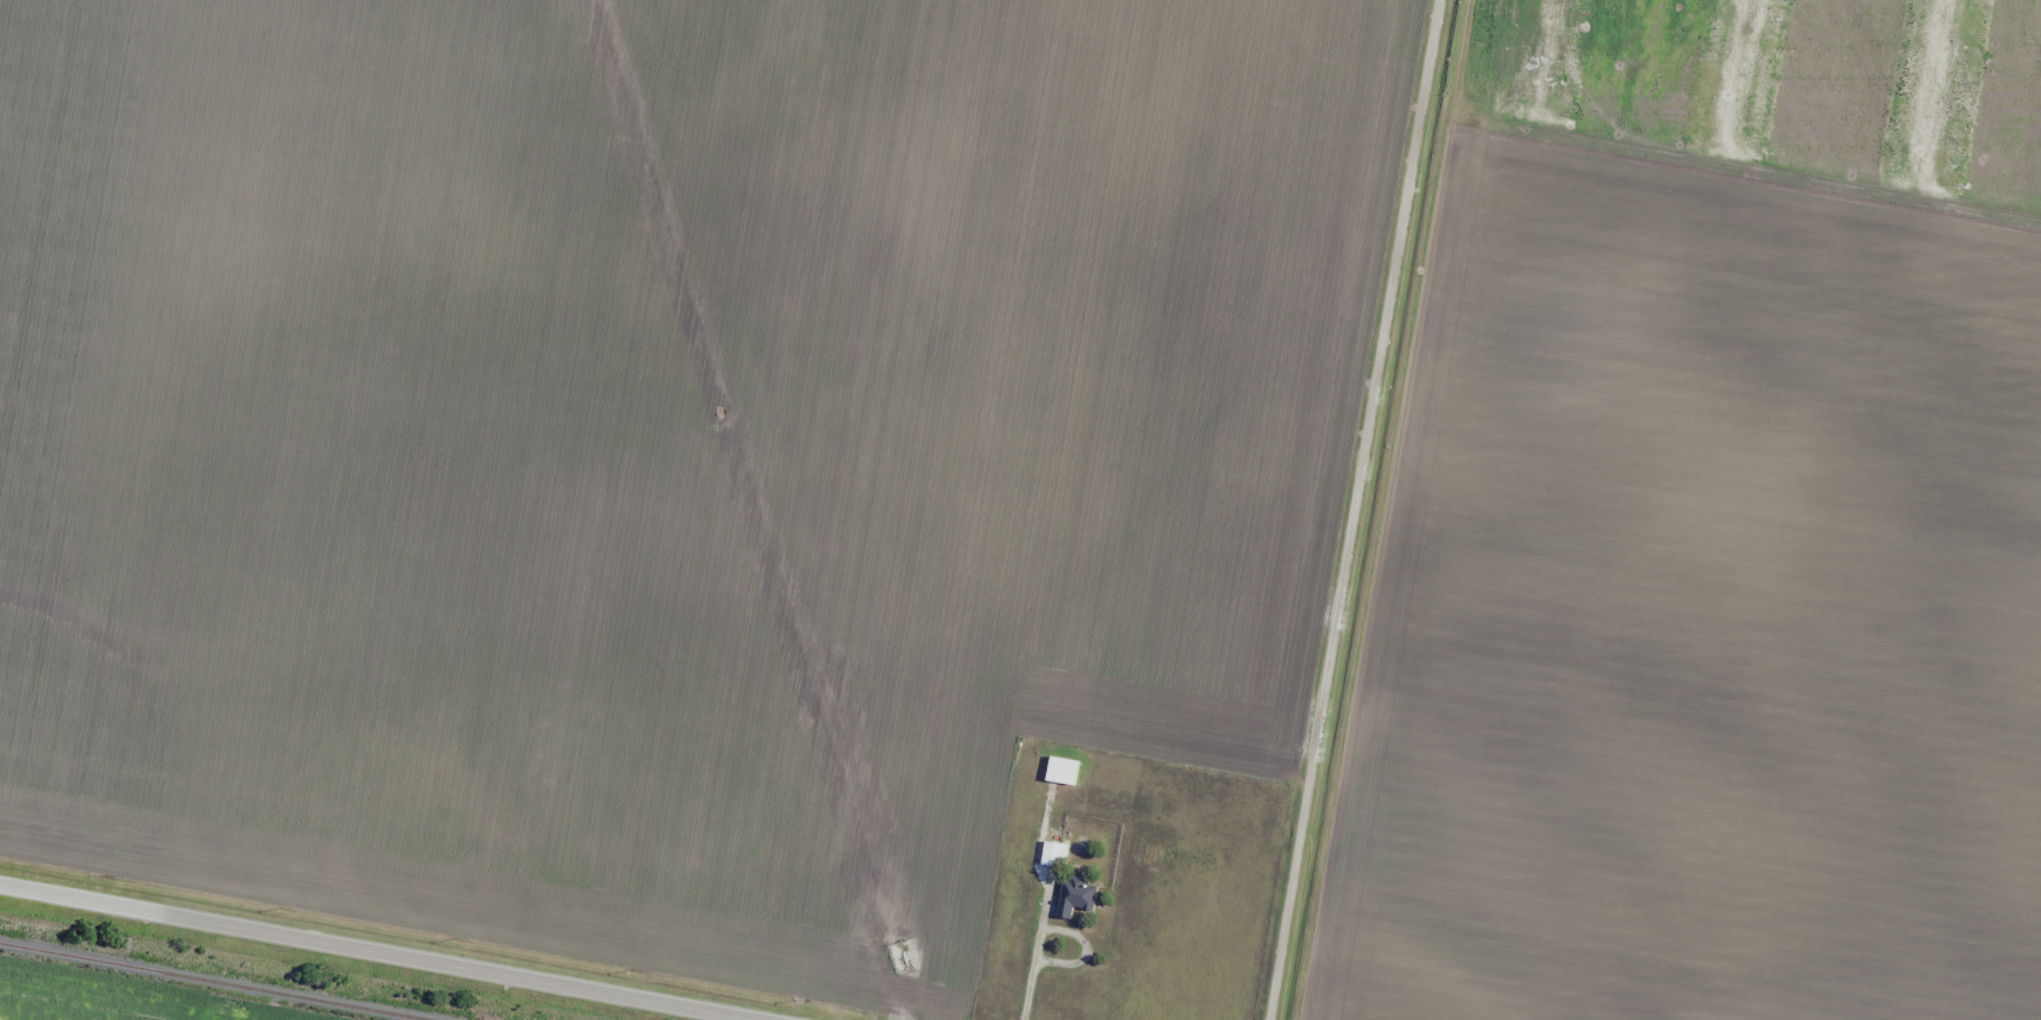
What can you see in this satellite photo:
road: (1360, 510)
building: (1054, 854)
building: (1074, 897)
road: (383, 952)
railway: (217, 981)

